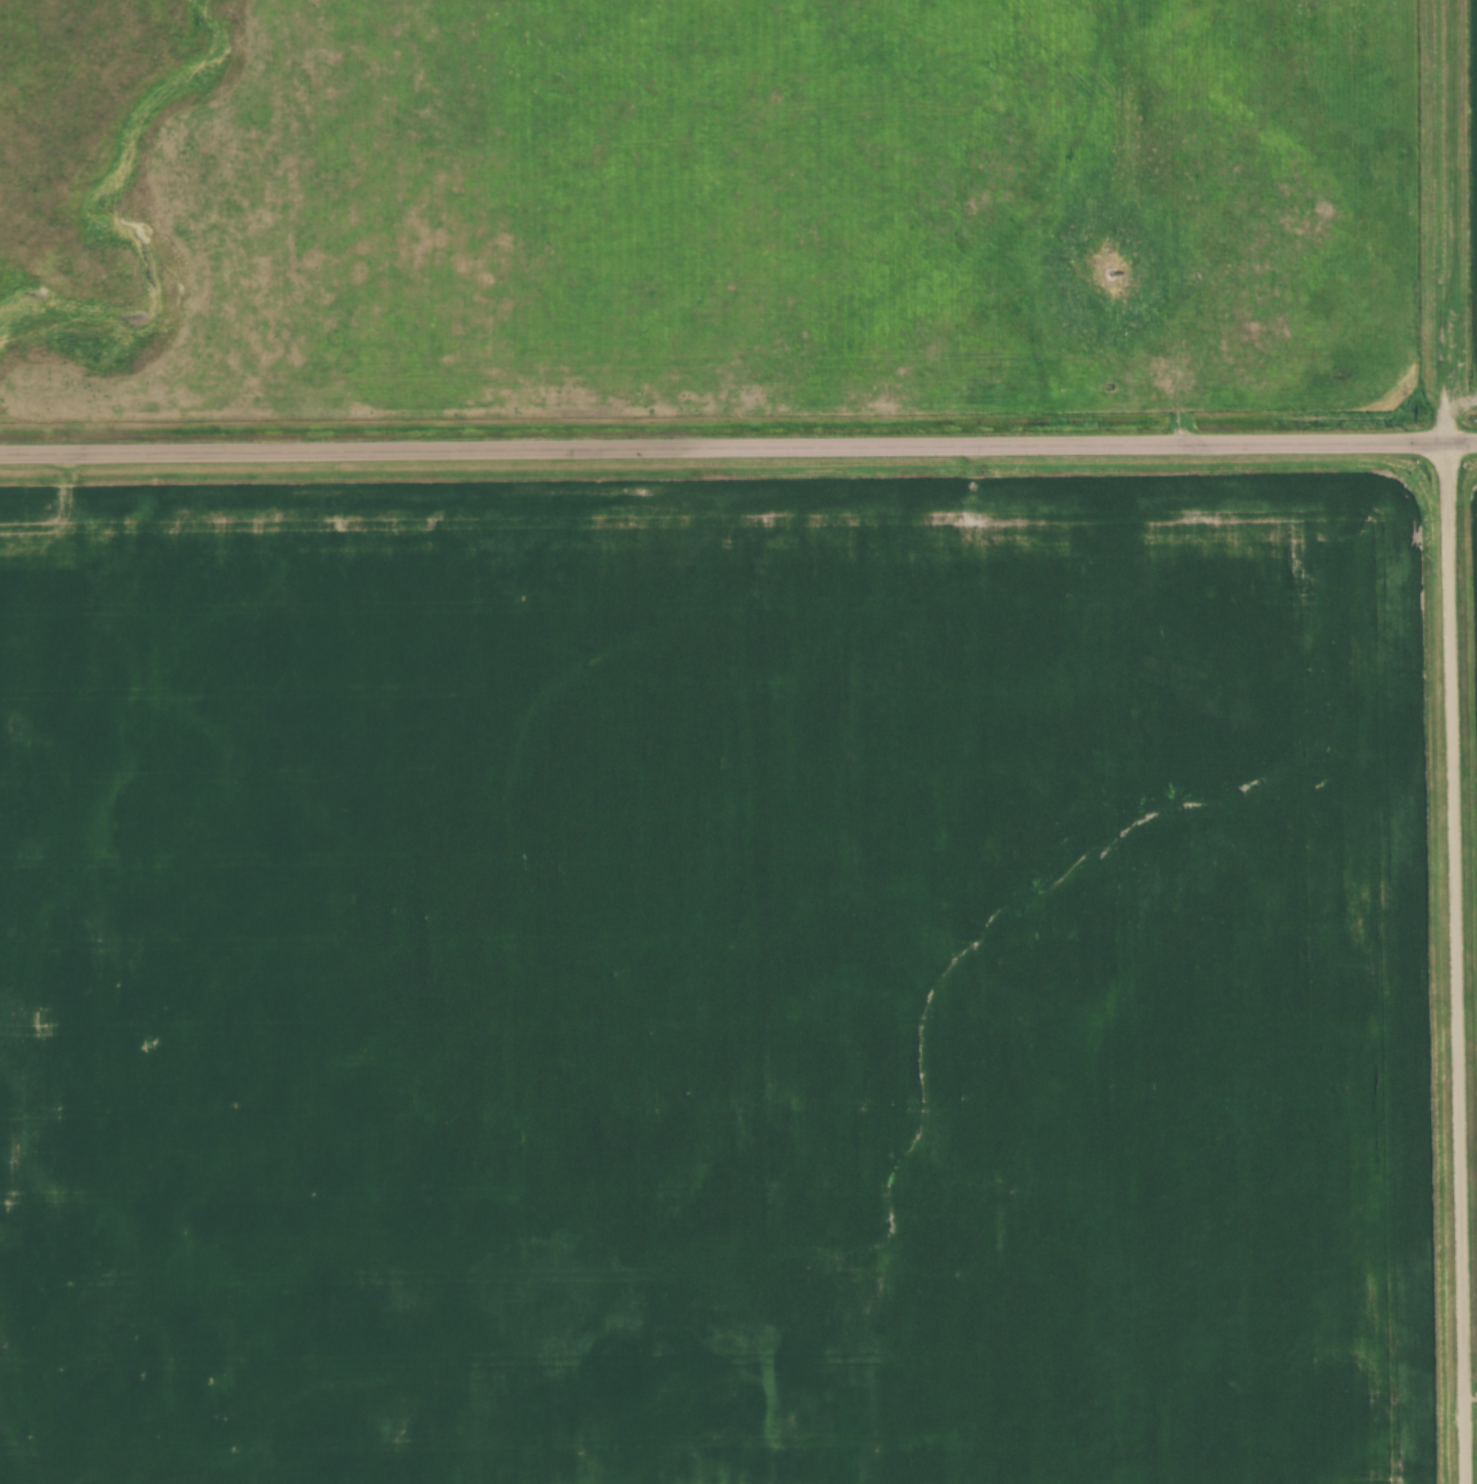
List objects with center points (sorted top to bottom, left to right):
road: (1448, 220)
road: (1464, 440)
road: (725, 446)
road: (1460, 962)

